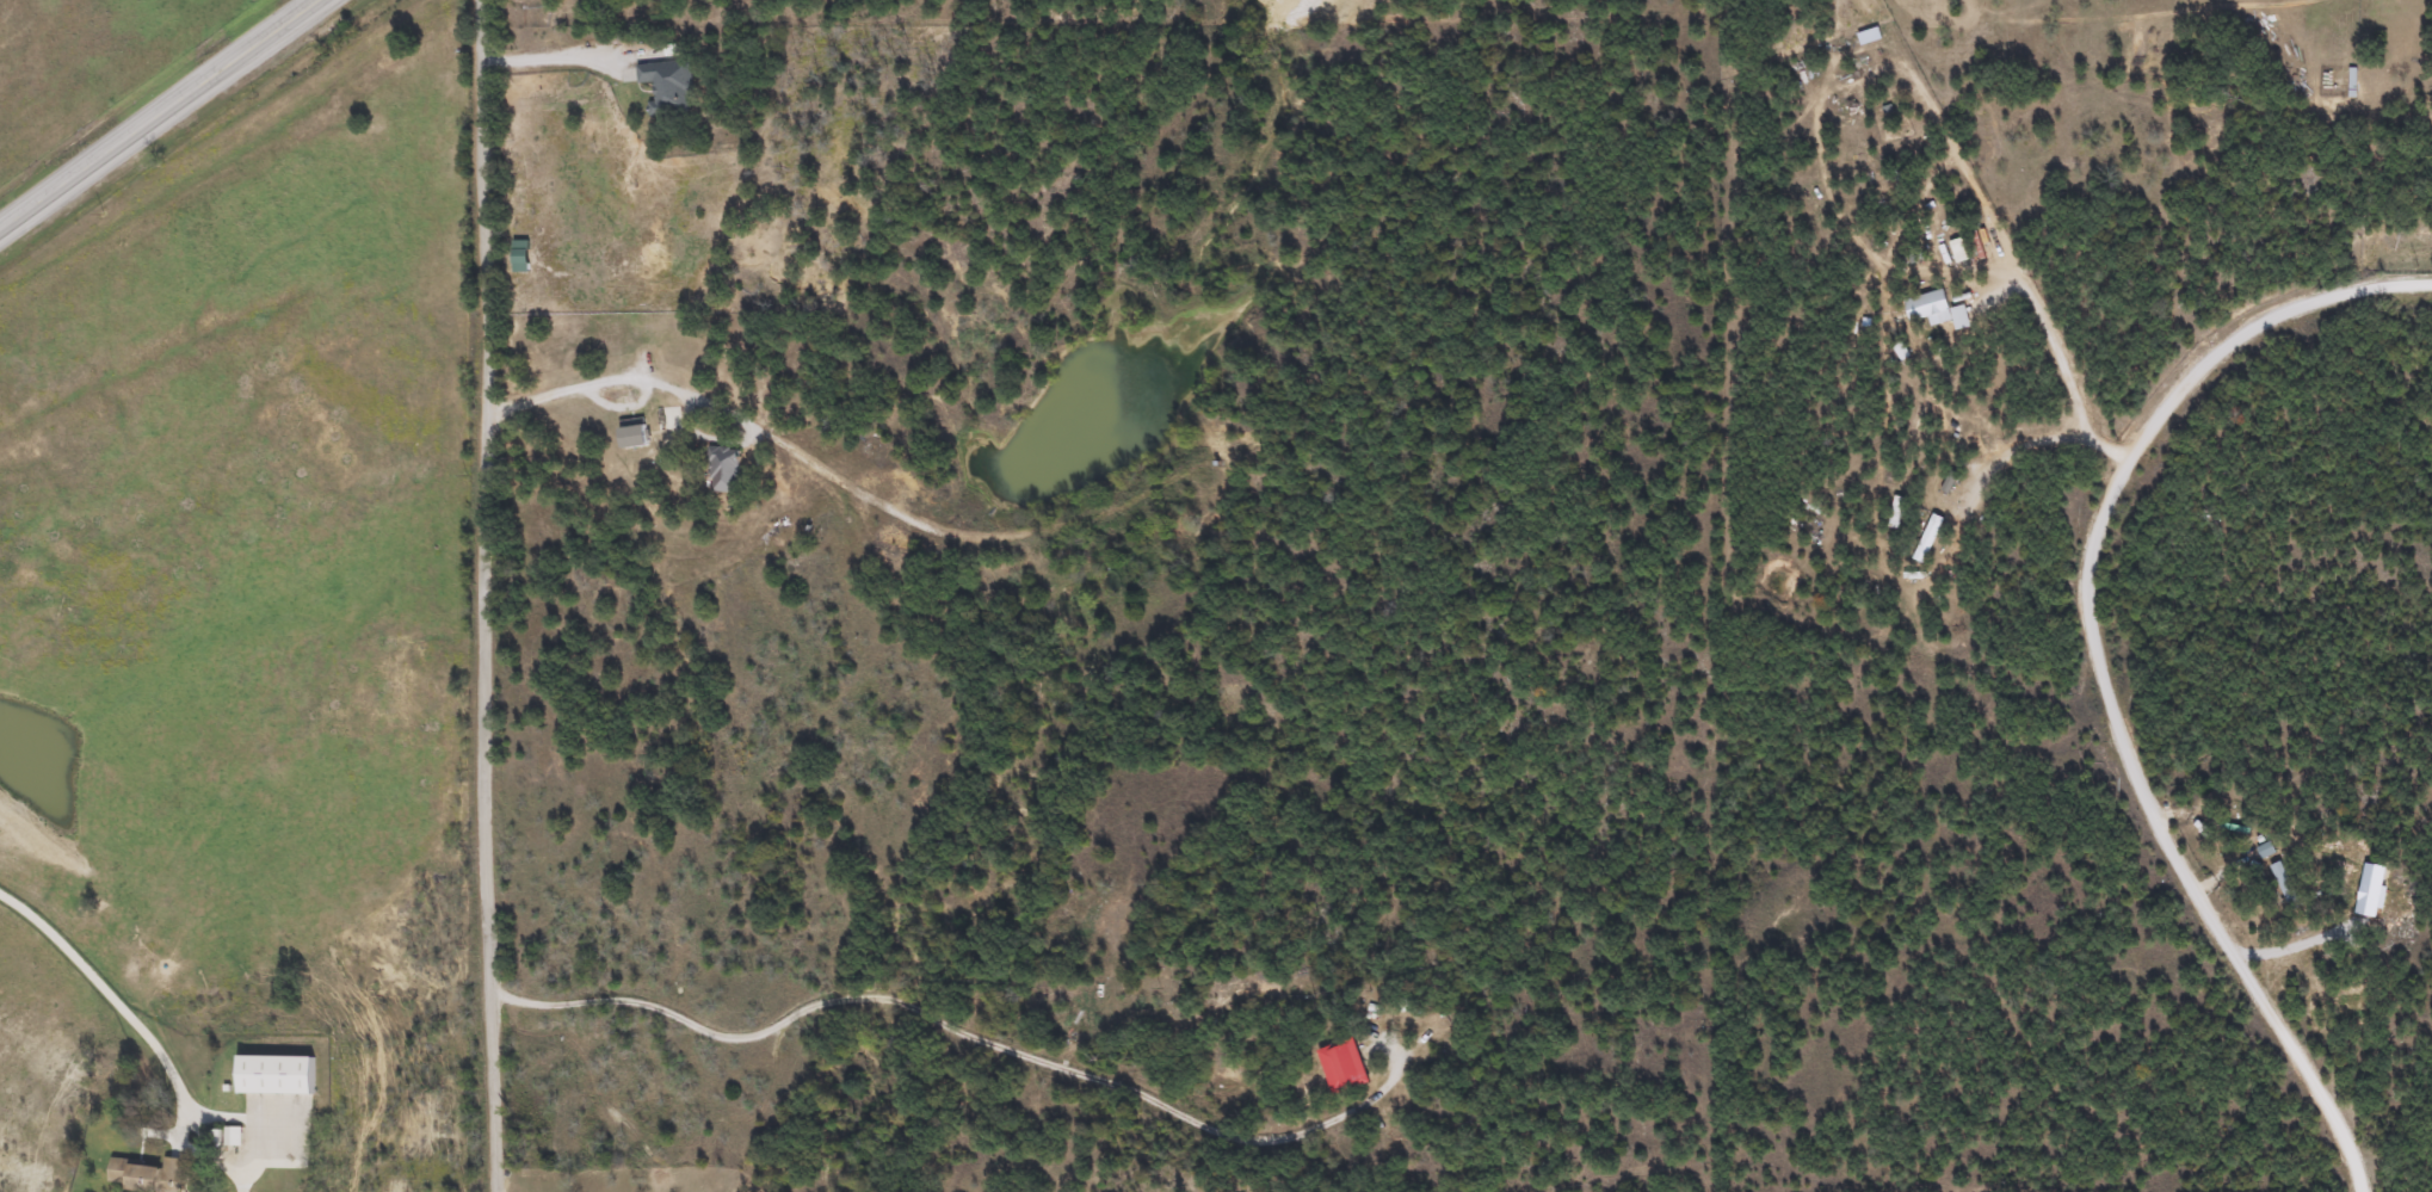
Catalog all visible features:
building: (668, 87)
road: (160, 116)
building: (519, 198)
road: (2037, 315)
building: (672, 322)
road: (621, 381)
building: (634, 433)
road: (2035, 446)
road: (2106, 451)
building: (723, 469)
building: (1950, 482)
building: (1895, 511)
building: (1928, 537)
road: (484, 595)
road: (2101, 662)
building: (2265, 850)
building: (2284, 884)
road: (112, 992)
building: (1365, 1008)
road: (1025, 1057)
building: (1342, 1060)
building: (277, 1075)
building: (234, 1135)
building: (150, 1175)

